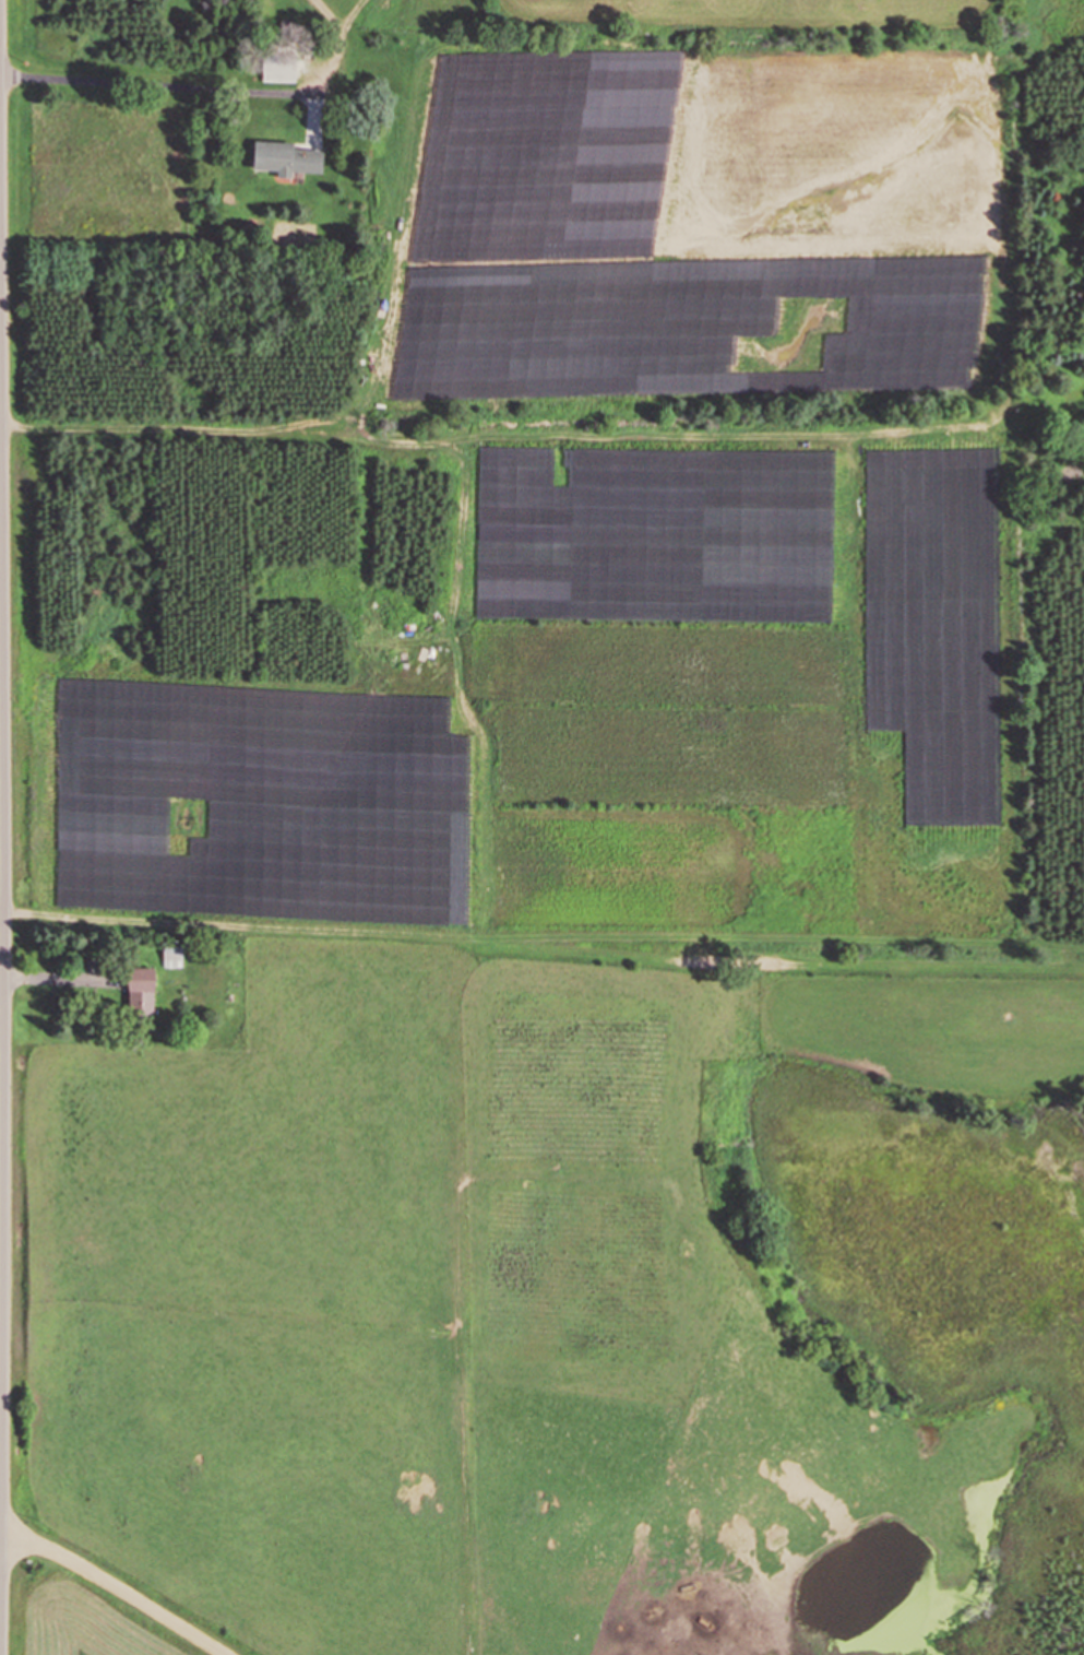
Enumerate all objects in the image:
building: (277, 71)
building: (285, 157)
road: (1, 933)
building: (172, 956)
building: (139, 991)
road: (1, 1051)
road: (115, 1588)

